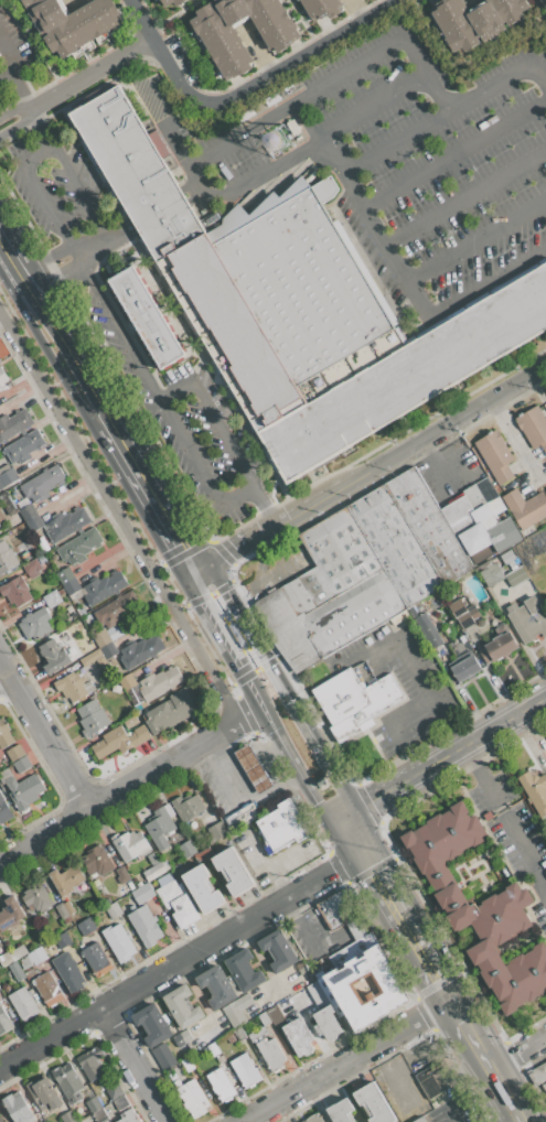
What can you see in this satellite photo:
building: (171, 2)
building: (544, 2)
building: (321, 8)
road: (542, 8)
road: (170, 15)
building: (475, 20)
building: (72, 22)
road: (302, 22)
building: (223, 45)
road: (414, 55)
road: (469, 61)
road: (14, 62)
road: (108, 62)
road: (261, 77)
road: (20, 89)
road: (482, 91)
road: (295, 103)
road: (14, 108)
road: (18, 123)
road: (41, 125)
road: (162, 127)
road: (395, 143)
road: (301, 149)
road: (454, 153)
parking lot: (392, 157)
road: (79, 190)
road: (38, 192)
road: (188, 193)
road: (196, 193)
road: (464, 196)
road: (191, 199)
road: (156, 204)
road: (163, 217)
road: (122, 226)
road: (126, 233)
road: (111, 235)
road: (92, 245)
road: (45, 258)
road: (8, 260)
road: (57, 273)
road: (404, 279)
road: (485, 280)
road: (416, 299)
building: (297, 304)
parking lot: (99, 305)
building: (147, 319)
road: (117, 327)
road: (68, 346)
road: (49, 358)
building: (2, 378)
road: (160, 400)
building: (14, 424)
road: (442, 424)
building: (533, 427)
building: (23, 446)
building: (0, 455)
building: (493, 455)
building: (7, 475)
building: (545, 488)
building: (39, 494)
road: (152, 497)
road: (264, 505)
building: (470, 507)
building: (525, 508)
road: (119, 517)
building: (1, 519)
building: (66, 524)
road: (269, 528)
building: (489, 538)
building: (79, 547)
road: (221, 552)
road: (179, 554)
building: (25, 557)
building: (41, 559)
building: (8, 561)
building: (32, 568)
traffic signals: (197, 570)
building: (363, 571)
building: (491, 574)
building: (65, 575)
building: (515, 576)
building: (72, 586)
building: (104, 587)
building: (15, 591)
road: (199, 598)
building: (52, 600)
building: (117, 612)
building: (462, 614)
building: (528, 619)
building: (35, 624)
building: (429, 629)
road: (234, 632)
building: (99, 637)
road: (223, 640)
building: (497, 647)
building: (108, 649)
building: (139, 651)
road: (403, 651)
building: (53, 656)
building: (90, 657)
traffic signals: (238, 667)
building: (464, 669)
road: (248, 673)
road: (3, 676)
building: (127, 681)
building: (159, 682)
building: (71, 687)
road: (281, 688)
road: (233, 691)
road: (231, 699)
traffic signals: (289, 700)
building: (353, 701)
road: (242, 706)
road: (408, 706)
building: (170, 712)
building: (92, 718)
road: (446, 720)
building: (130, 722)
traffic signals: (237, 723)
building: (4, 734)
road: (43, 735)
building: (119, 741)
road: (402, 746)
building: (15, 753)
road: (448, 753)
building: (22, 764)
building: (253, 769)
road: (481, 778)
road: (302, 780)
road: (129, 784)
building: (24, 790)
building: (535, 790)
traffic signals: (368, 801)
traffic signals: (315, 802)
building: (188, 807)
building: (4, 810)
building: (244, 814)
building: (282, 826)
building: (159, 828)
building: (213, 832)
road: (350, 834)
building: (442, 843)
building: (130, 844)
building: (185, 849)
road: (523, 851)
building: (152, 859)
building: (97, 861)
road: (377, 861)
building: (233, 870)
building: (154, 871)
traffic signals: (331, 872)
traffic signals: (386, 874)
building: (121, 875)
building: (66, 880)
road: (365, 885)
building: (202, 888)
building: (142, 893)
building: (36, 896)
building: (178, 903)
building: (339, 908)
building: (113, 909)
building: (62, 911)
building: (9, 914)
building: (486, 917)
building: (86, 926)
building: (144, 926)
building: (63, 940)
building: (119, 941)
building: (353, 949)
building: (278, 950)
road: (430, 951)
building: (18, 952)
building: (38, 956)
building: (96, 959)
building: (6, 960)
road: (175, 963)
road: (411, 965)
building: (243, 970)
building: (17, 971)
building: (68, 971)
building: (516, 977)
building: (215, 986)
building: (338, 986)
building: (47, 989)
building: (1, 994)
building: (317, 994)
building: (22, 1004)
building: (182, 1006)
building: (237, 1011)
building: (275, 1016)
building: (264, 1019)
building: (4, 1022)
building: (326, 1023)
building: (152, 1025)
building: (238, 1033)
building: (299, 1036)
building: (182, 1038)
building: (213, 1049)
road: (516, 1053)
building: (270, 1054)
building: (162, 1056)
road: (480, 1056)
road: (346, 1060)
road: (135, 1065)
building: (186, 1065)
building: (93, 1066)
building: (245, 1071)
building: (537, 1074)
building: (545, 1082)
building: (427, 1083)
building: (221, 1085)
building: (69, 1086)
building: (114, 1091)
building: (545, 1092)
building: (45, 1096)
building: (192, 1099)
building: (120, 1102)
building: (373, 1103)
building: (93, 1104)
building: (17, 1108)
building: (340, 1111)
building: (68, 1116)
building: (128, 1116)
road: (452, 1116)
road: (504, 1116)
road: (516, 1116)
building: (313, 1119)
building: (418, 1120)
building: (0, 1121)

